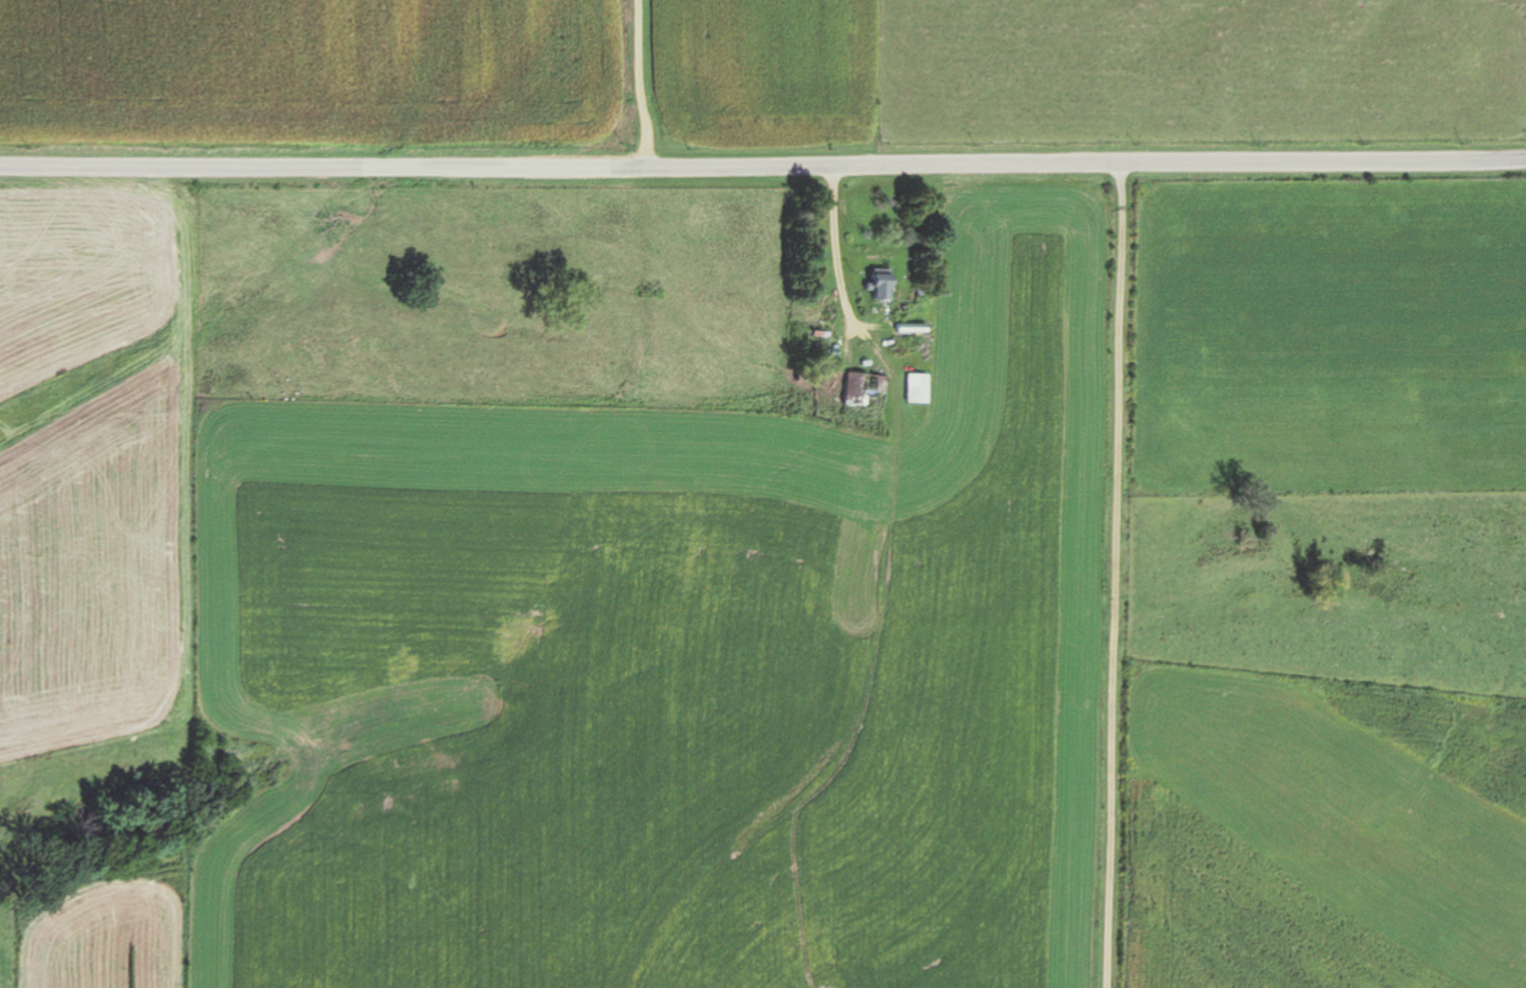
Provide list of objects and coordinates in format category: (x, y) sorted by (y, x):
road: (647, 86)
road: (762, 170)
road: (833, 263)
building: (884, 283)
building: (870, 287)
building: (902, 327)
building: (919, 387)
building: (905, 388)
building: (856, 391)
road: (1111, 575)

